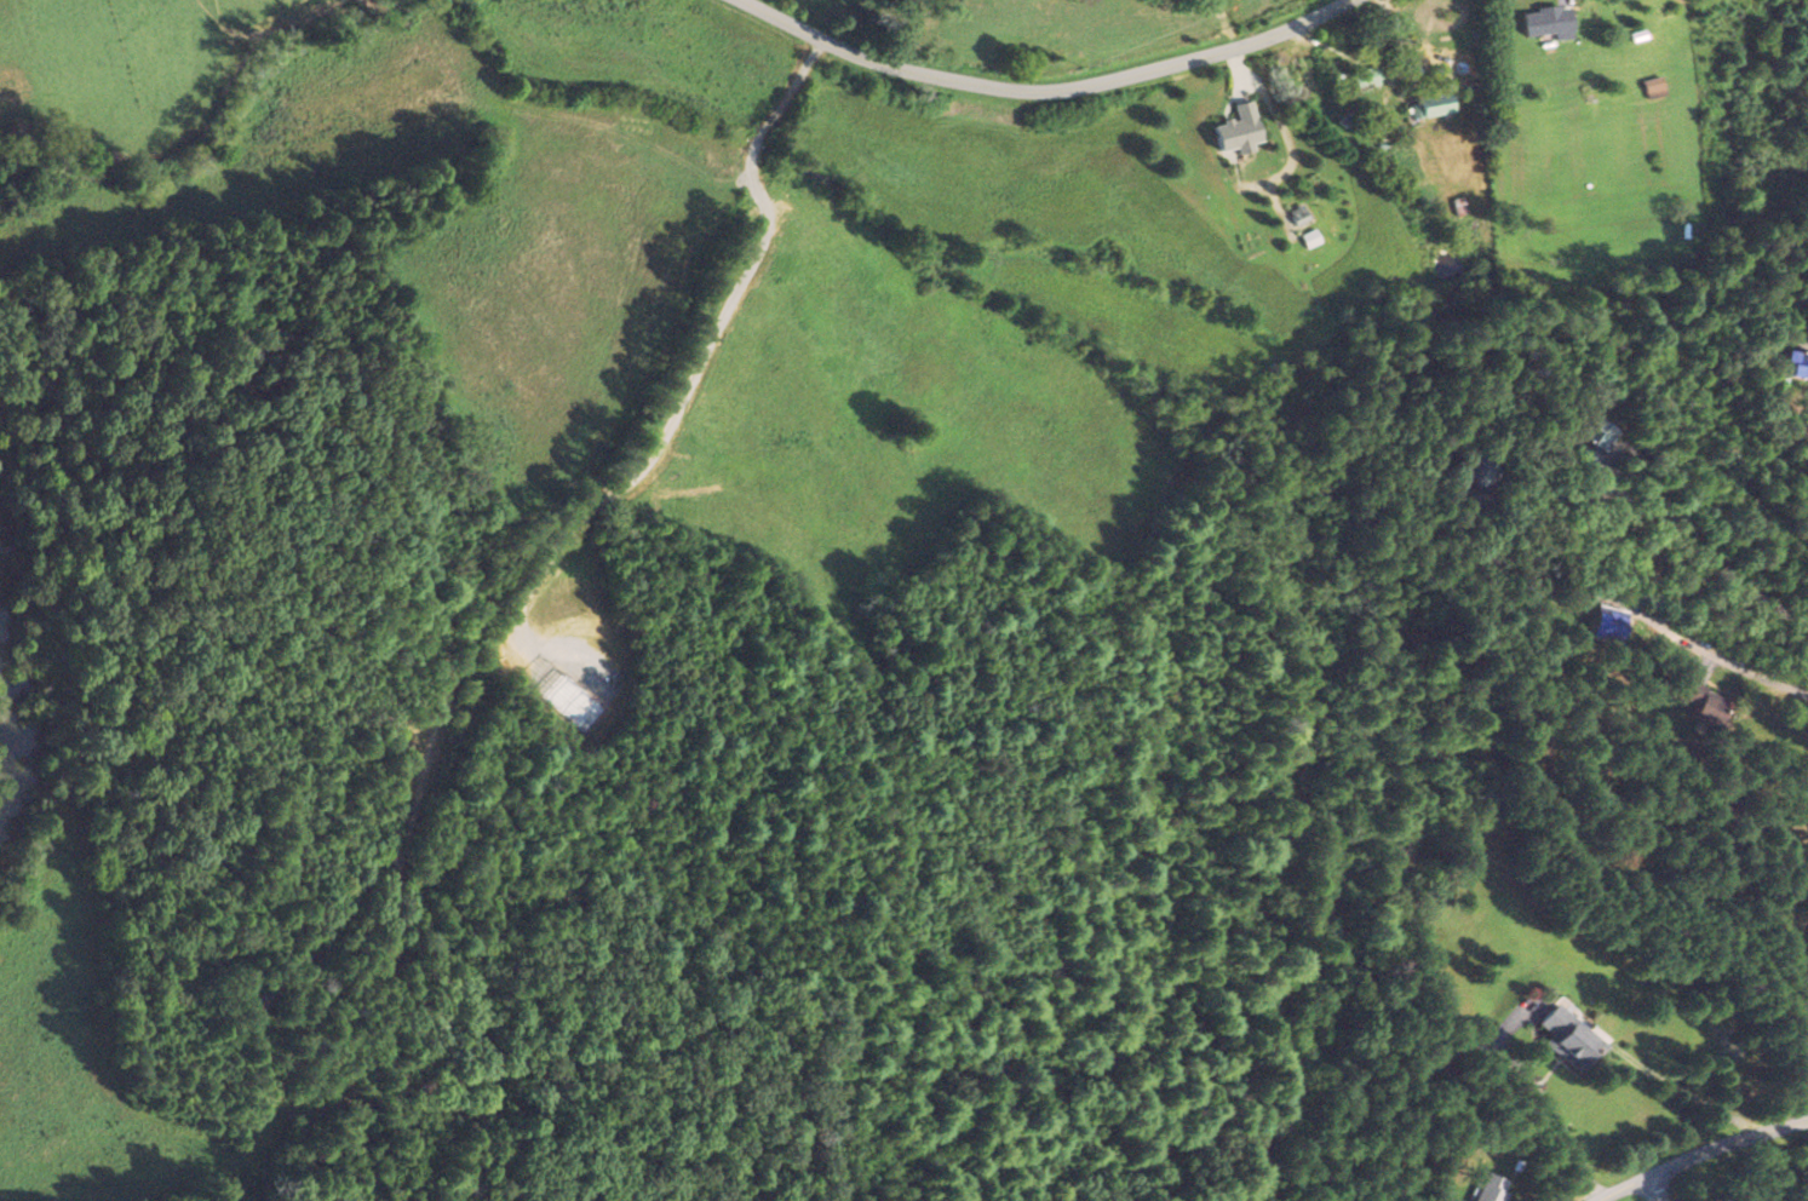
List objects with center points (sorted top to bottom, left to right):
building: (1539, 22)
road: (1045, 85)
building: (1648, 87)
building: (1428, 104)
building: (1232, 130)
building: (1796, 364)
road: (1737, 571)
building: (1603, 625)
road: (1714, 650)
river: (5, 676)
building: (1701, 706)
river: (11, 787)
building: (1557, 1036)
road: (1699, 1156)
building: (1487, 1189)
road: (1651, 1189)

